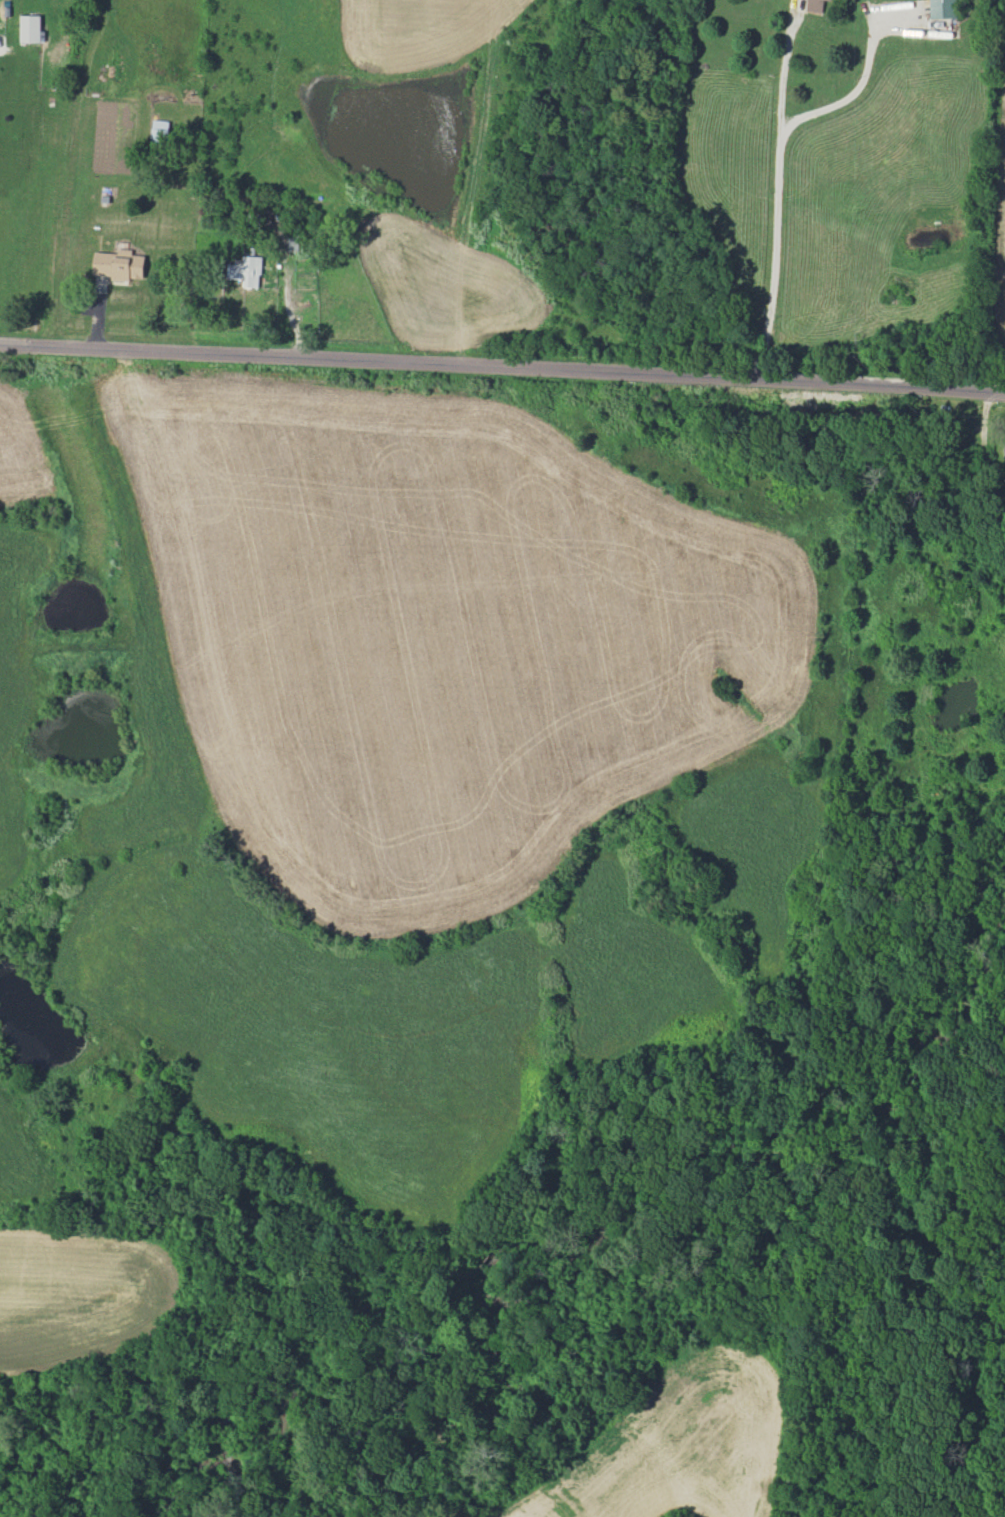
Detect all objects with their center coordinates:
building: (818, 5)
building: (942, 9)
building: (31, 29)
crop: (376, 34)
building: (159, 138)
road: (775, 201)
crop: (994, 211)
building: (290, 241)
building: (119, 264)
building: (246, 270)
road: (502, 359)
building: (1004, 450)
crop: (16, 462)
crop: (440, 624)
crop: (17, 684)
crop: (38, 1161)
crop: (71, 1294)
crop: (681, 1437)

